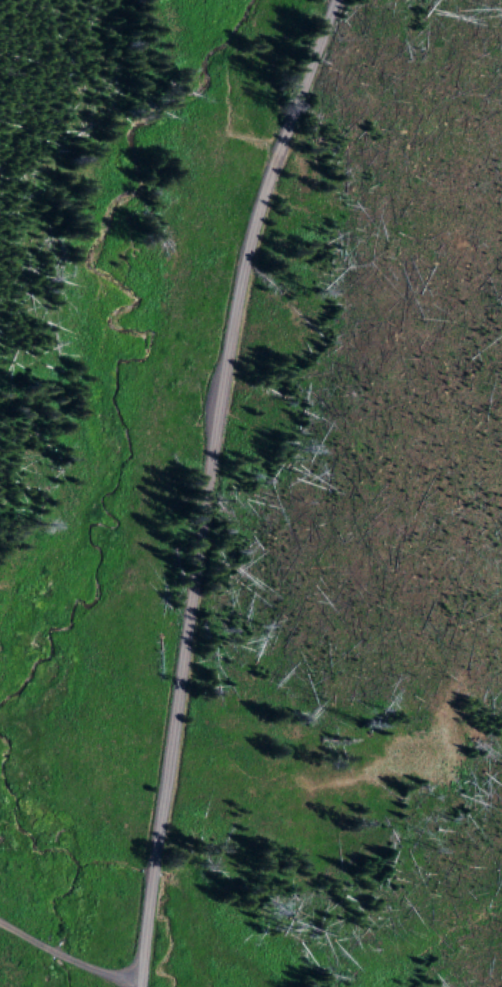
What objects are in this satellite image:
road: (204, 486)
road: (59, 965)

